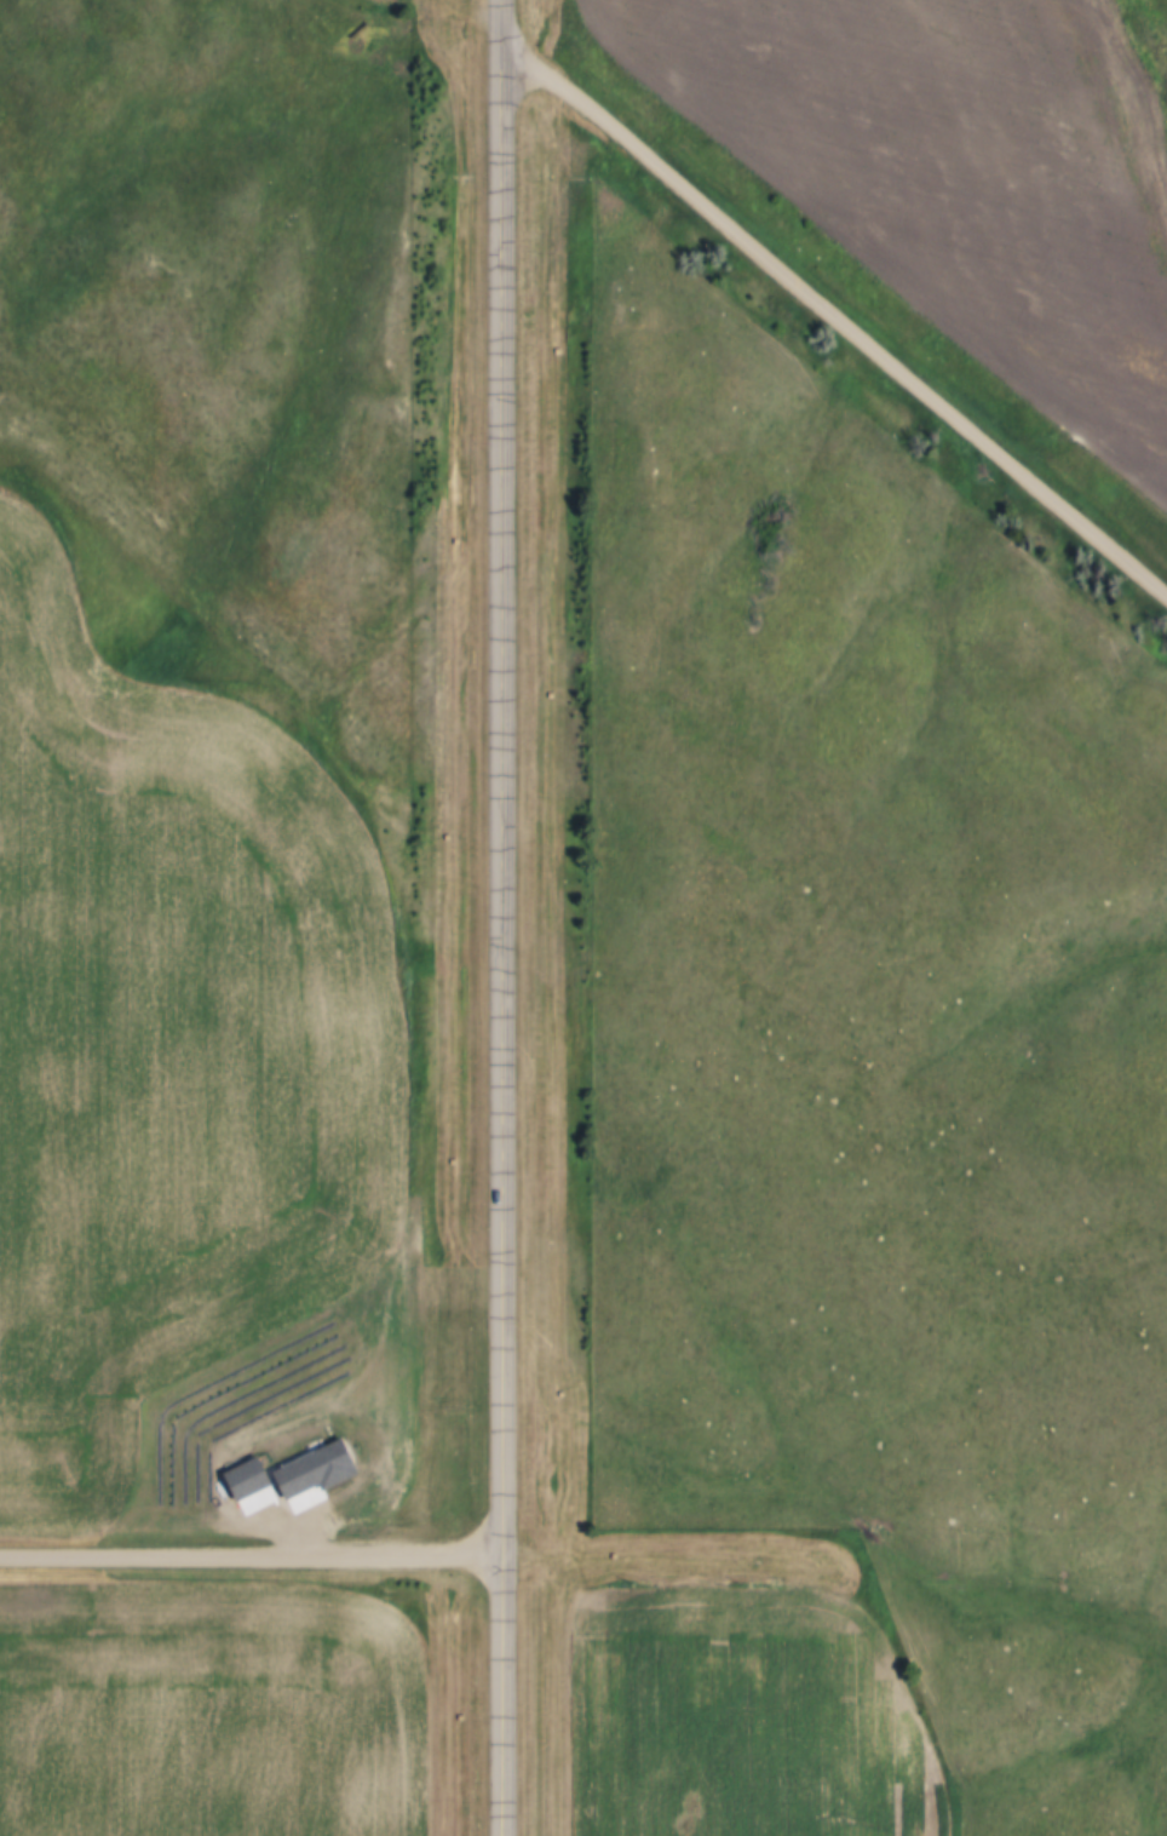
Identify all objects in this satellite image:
road: (682, 85)
road: (838, 316)
road: (510, 918)
road: (253, 1554)

